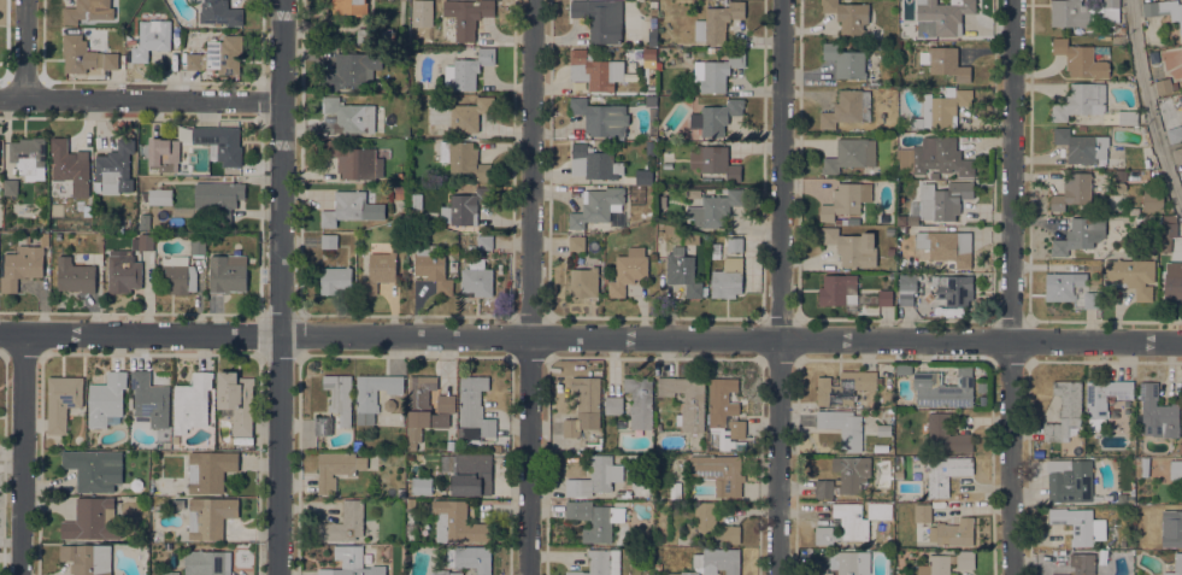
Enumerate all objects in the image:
building: (905, 2)
building: (349, 6)
building: (1164, 8)
building: (89, 10)
building: (1111, 11)
building: (219, 12)
building: (1069, 13)
building: (848, 14)
building: (945, 14)
building: (465, 17)
building: (600, 18)
building: (718, 20)
building: (1121, 29)
building: (378, 35)
building: (652, 36)
building: (152, 39)
road: (261, 40)
building: (853, 43)
road: (25, 48)
building: (225, 53)
building: (649, 53)
building: (84, 54)
building: (1080, 59)
building: (194, 60)
building: (846, 60)
building: (945, 61)
building: (353, 68)
building: (466, 70)
building: (592, 70)
building: (717, 70)
road: (261, 82)
building: (1165, 84)
road: (140, 99)
road: (263, 101)
building: (651, 101)
building: (1164, 101)
building: (1090, 105)
road: (1148, 105)
building: (847, 107)
building: (941, 107)
building: (349, 115)
building: (469, 115)
building: (601, 117)
building: (716, 117)
road: (260, 121)
building: (1174, 129)
building: (220, 142)
building: (1081, 146)
building: (163, 149)
building: (849, 153)
building: (933, 154)
building: (1177, 154)
building: (29, 156)
building: (464, 158)
building: (354, 160)
building: (69, 162)
building: (713, 162)
building: (594, 163)
building: (116, 168)
building: (1121, 174)
building: (934, 175)
building: (1137, 178)
building: (642, 180)
building: (652, 180)
building: (941, 183)
building: (11, 186)
building: (1121, 187)
building: (652, 189)
building: (1071, 190)
building: (398, 192)
building: (693, 193)
building: (159, 195)
building: (218, 198)
building: (845, 199)
building: (942, 199)
building: (661, 200)
building: (1153, 201)
building: (598, 205)
building: (465, 206)
building: (351, 207)
building: (716, 207)
building: (1134, 210)
road: (260, 216)
building: (901, 219)
building: (145, 221)
building: (849, 221)
building: (1166, 231)
road: (1029, 234)
building: (1078, 235)
building: (689, 237)
building: (329, 240)
building: (142, 241)
building: (484, 242)
building: (576, 242)
building: (733, 244)
building: (198, 246)
building: (852, 246)
building: (947, 246)
building: (890, 251)
building: (453, 265)
building: (22, 266)
building: (433, 268)
building: (628, 270)
building: (124, 271)
building: (378, 271)
building: (683, 272)
building: (178, 274)
building: (228, 274)
building: (75, 275)
building: (1131, 275)
building: (477, 277)
building: (335, 278)
building: (727, 278)
building: (584, 281)
building: (1172, 281)
road: (280, 287)
road: (531, 287)
road: (782, 287)
road: (1013, 287)
building: (906, 288)
building: (837, 289)
building: (1068, 289)
building: (949, 291)
building: (884, 297)
road: (301, 312)
road: (258, 313)
road: (260, 315)
road: (406, 315)
road: (655, 317)
road: (895, 318)
road: (590, 338)
road: (147, 353)
road: (258, 356)
building: (902, 368)
building: (845, 387)
building: (982, 387)
building: (943, 388)
building: (374, 394)
building: (340, 395)
building: (106, 398)
building: (686, 398)
building: (149, 399)
building: (236, 399)
building: (1104, 399)
building: (61, 400)
building: (640, 400)
building: (192, 401)
building: (613, 404)
building: (475, 405)
building: (583, 405)
building: (425, 407)
building: (1064, 410)
building: (724, 411)
building: (1158, 413)
building: (323, 424)
building: (842, 427)
building: (883, 429)
building: (946, 434)
road: (19, 456)
building: (336, 468)
building: (94, 469)
building: (210, 469)
building: (1176, 469)
building: (469, 473)
building: (719, 473)
building: (946, 474)
building: (595, 476)
building: (845, 476)
building: (1071, 482)
building: (422, 486)
building: (675, 489)
building: (623, 493)
building: (1130, 499)
building: (922, 512)
building: (210, 516)
building: (92, 518)
building: (594, 518)
building: (345, 522)
building: (457, 522)
building: (704, 522)
building: (851, 522)
building: (1078, 524)
building: (1175, 527)
building: (953, 532)
building: (731, 534)
building: (470, 557)
building: (87, 558)
building: (718, 561)
building: (352, 562)
building: (853, 562)
building: (207, 563)
building: (600, 563)
building: (946, 563)
building: (1087, 563)
building: (1176, 564)
building: (443, 571)
building: (170, 573)
building: (689, 573)
building: (823, 574)
building: (1059, 574)

